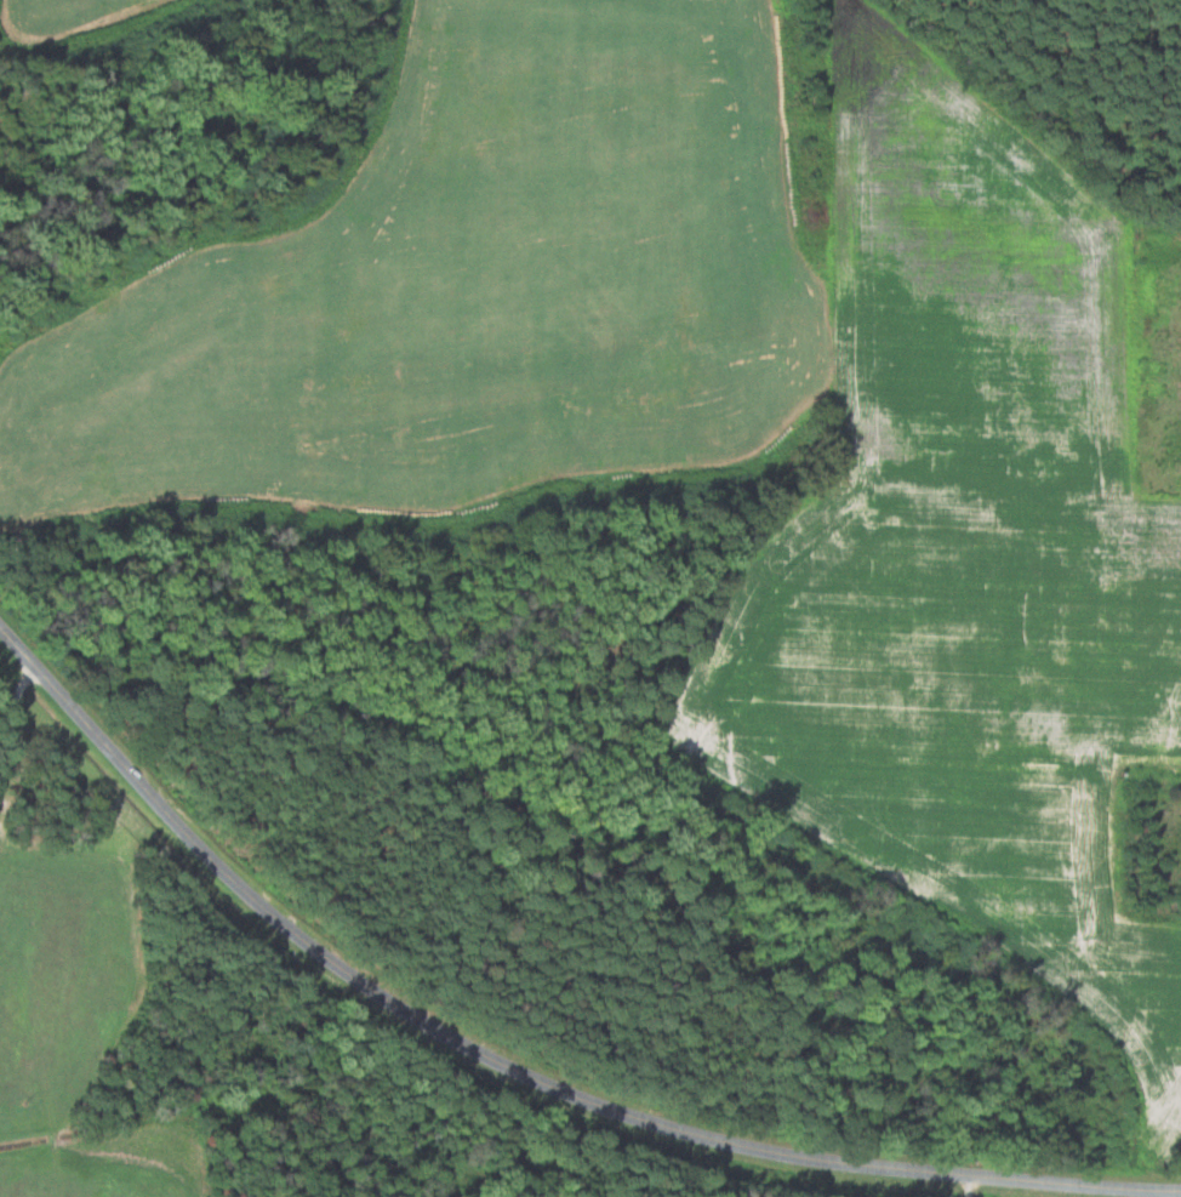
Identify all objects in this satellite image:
building: (1179, 286)
building: (1177, 369)
road: (512, 1070)

